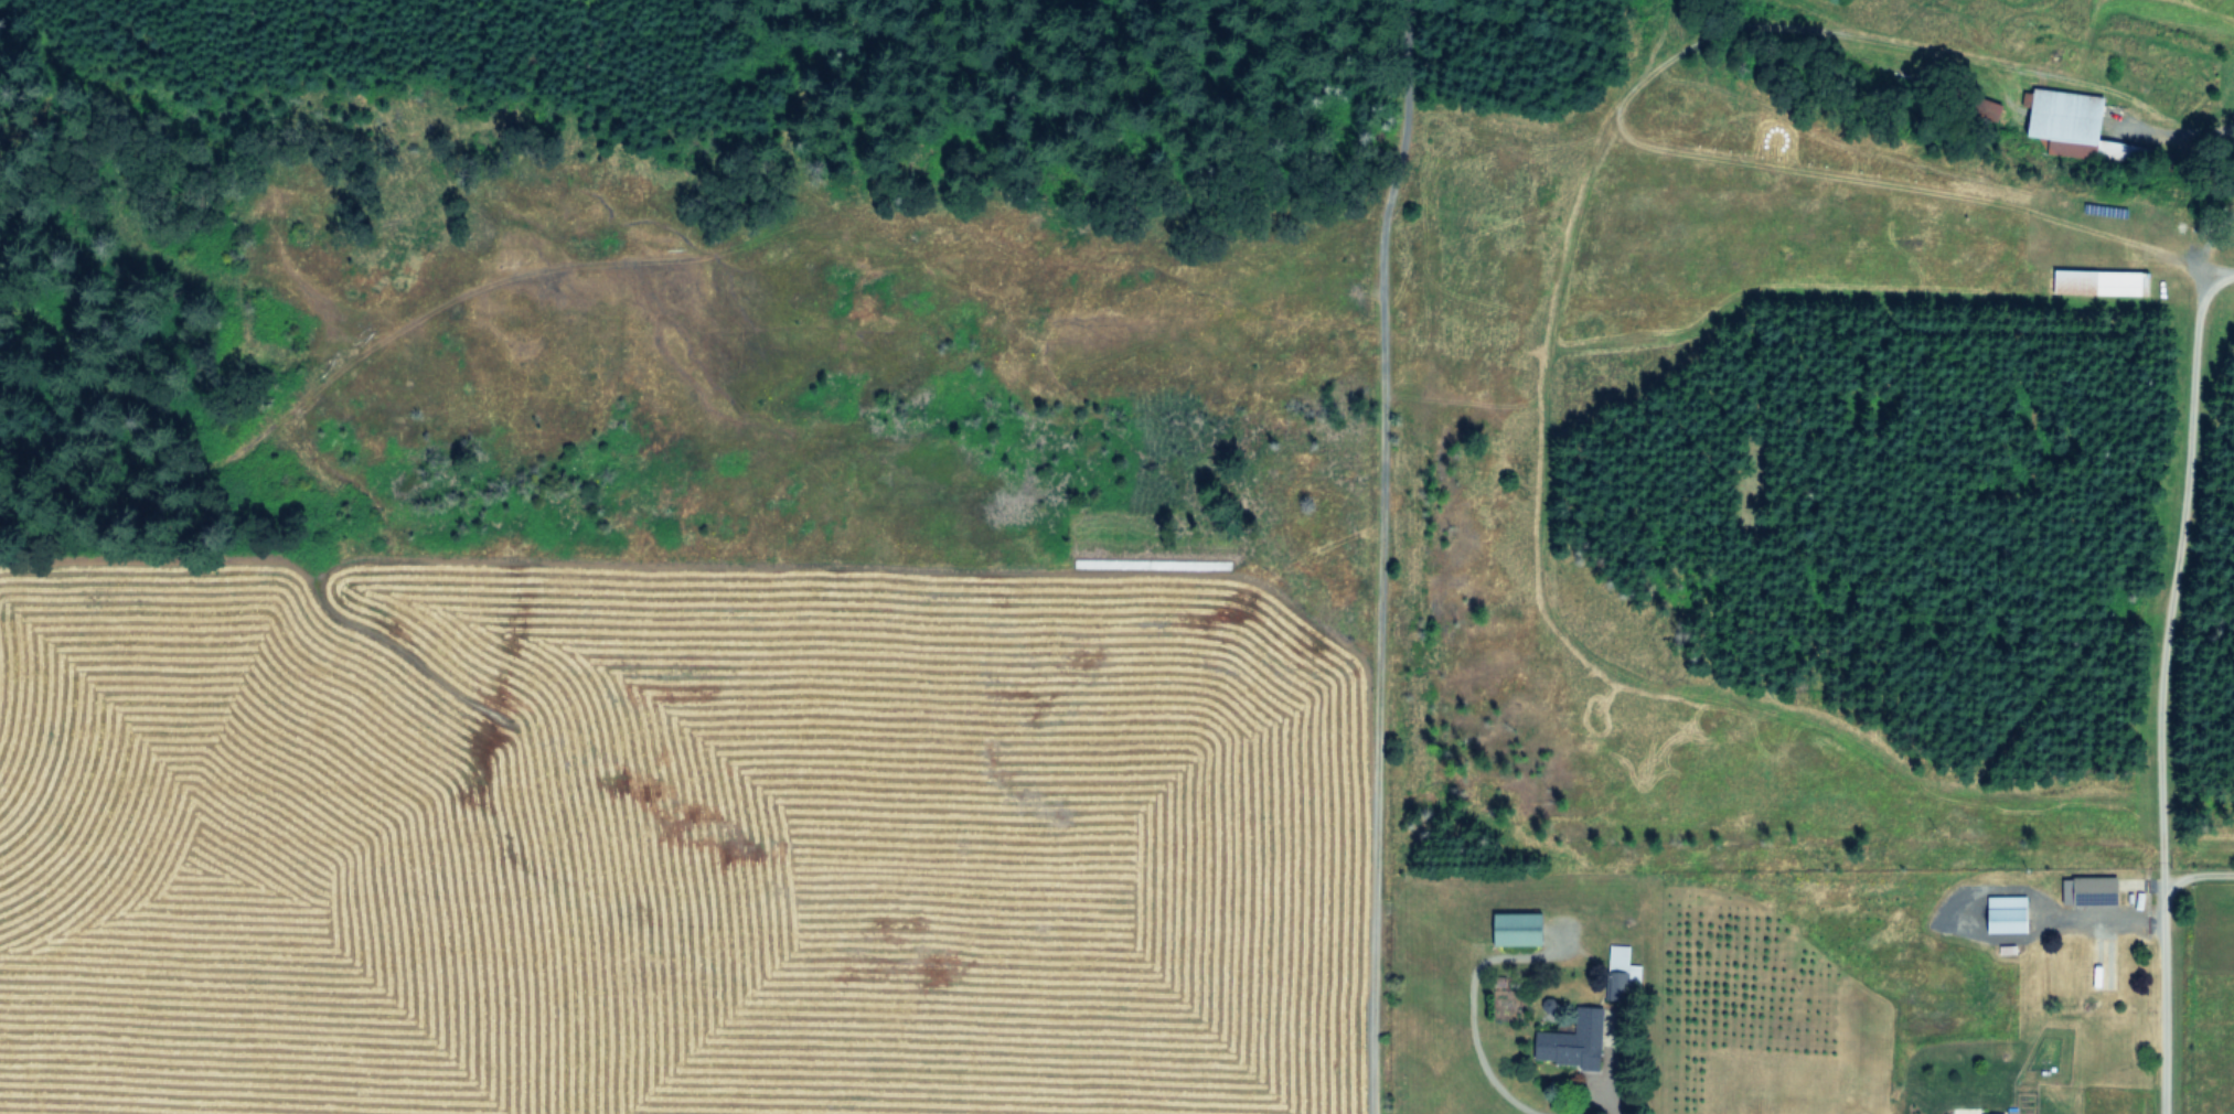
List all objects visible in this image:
building: (2065, 118)
building: (2123, 150)
building: (2110, 280)
road: (2213, 281)
road: (1375, 555)
road: (2164, 655)
crop: (653, 829)
road: (2194, 872)
crop: (1760, 886)
building: (2010, 912)
road: (2105, 913)
building: (1520, 928)
road: (1471, 1013)
building: (1574, 1041)
road: (1597, 1108)
building: (1996, 1113)

